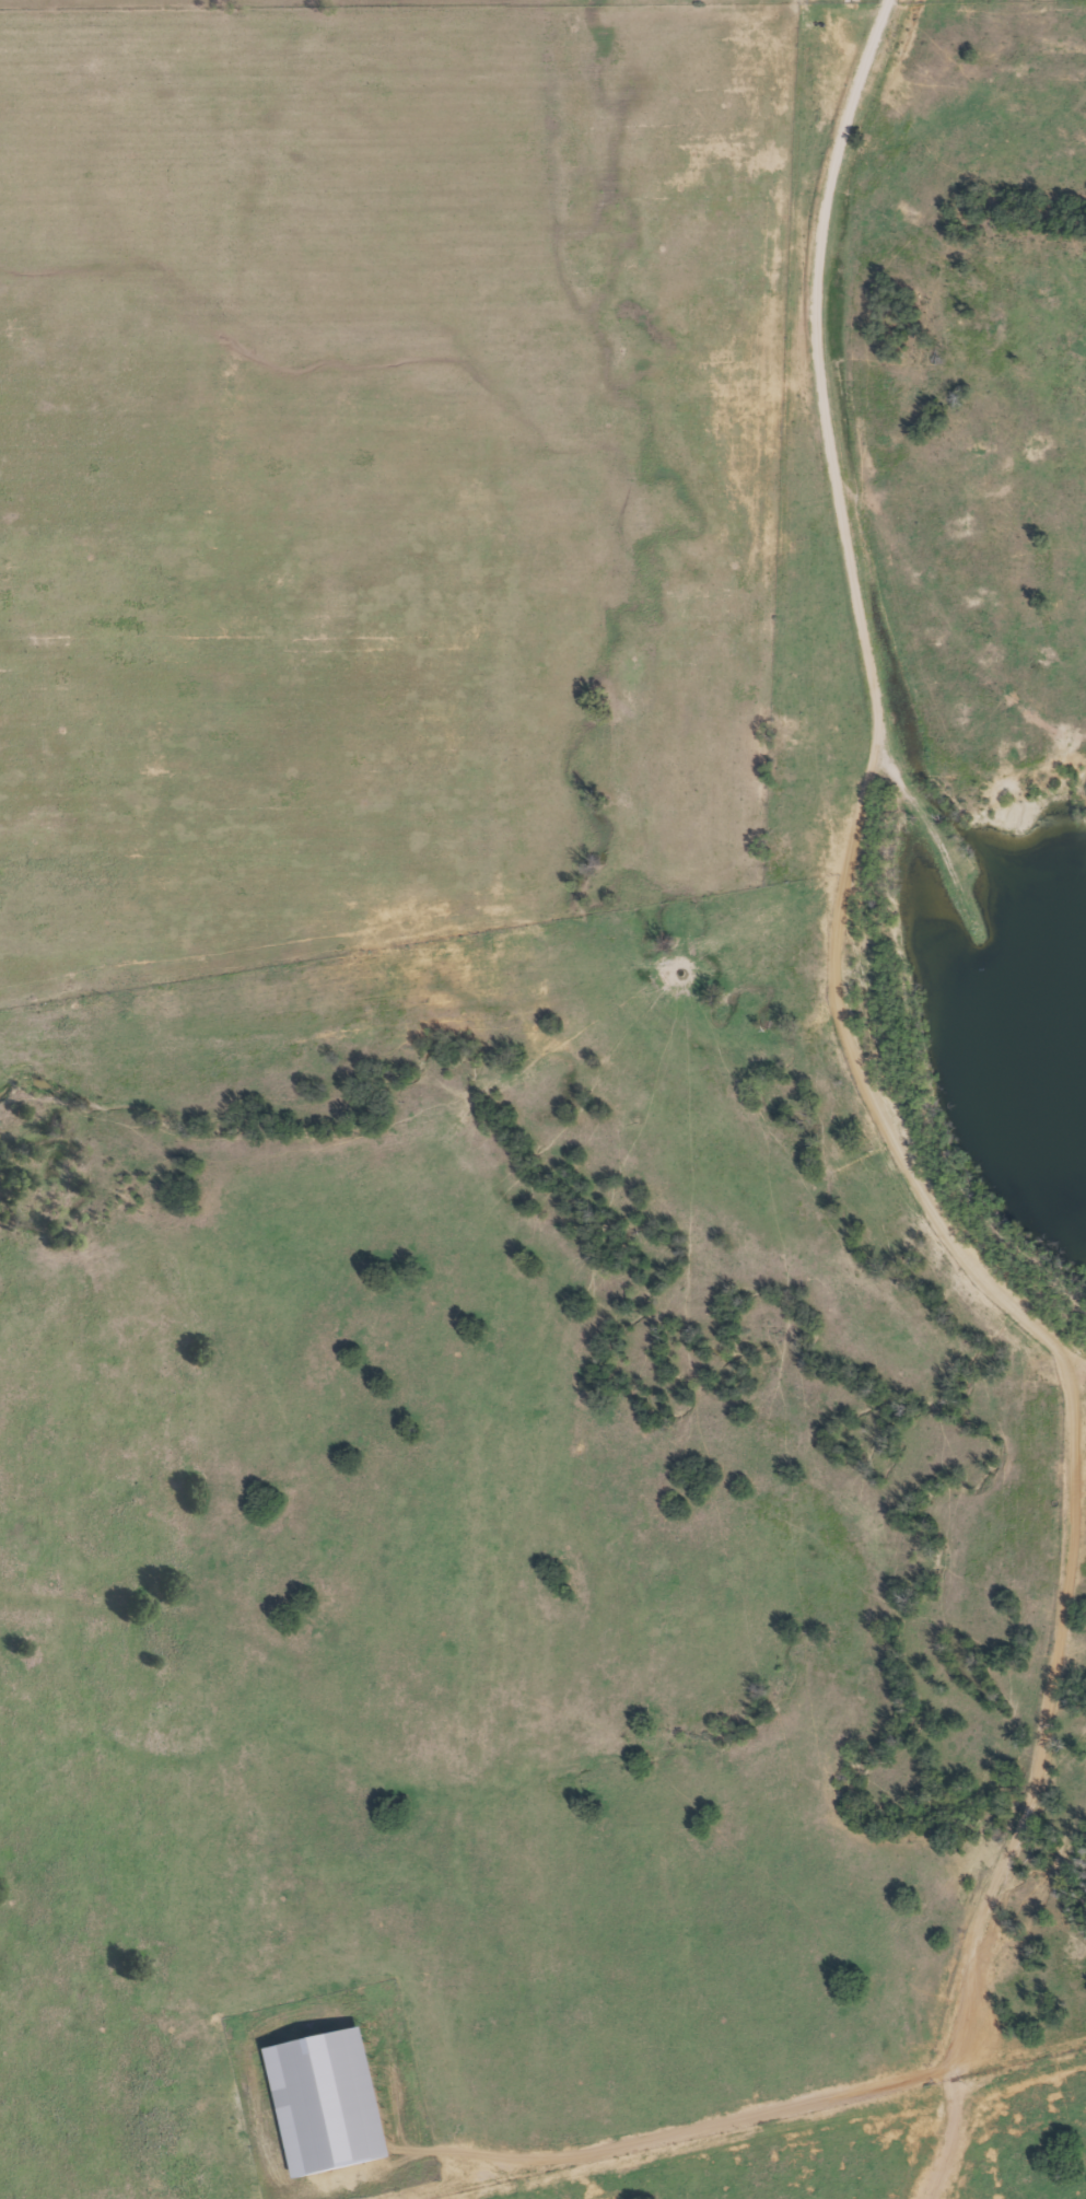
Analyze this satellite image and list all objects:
road: (872, 699)
road: (1065, 1343)
road: (1032, 1773)
building: (330, 2099)

